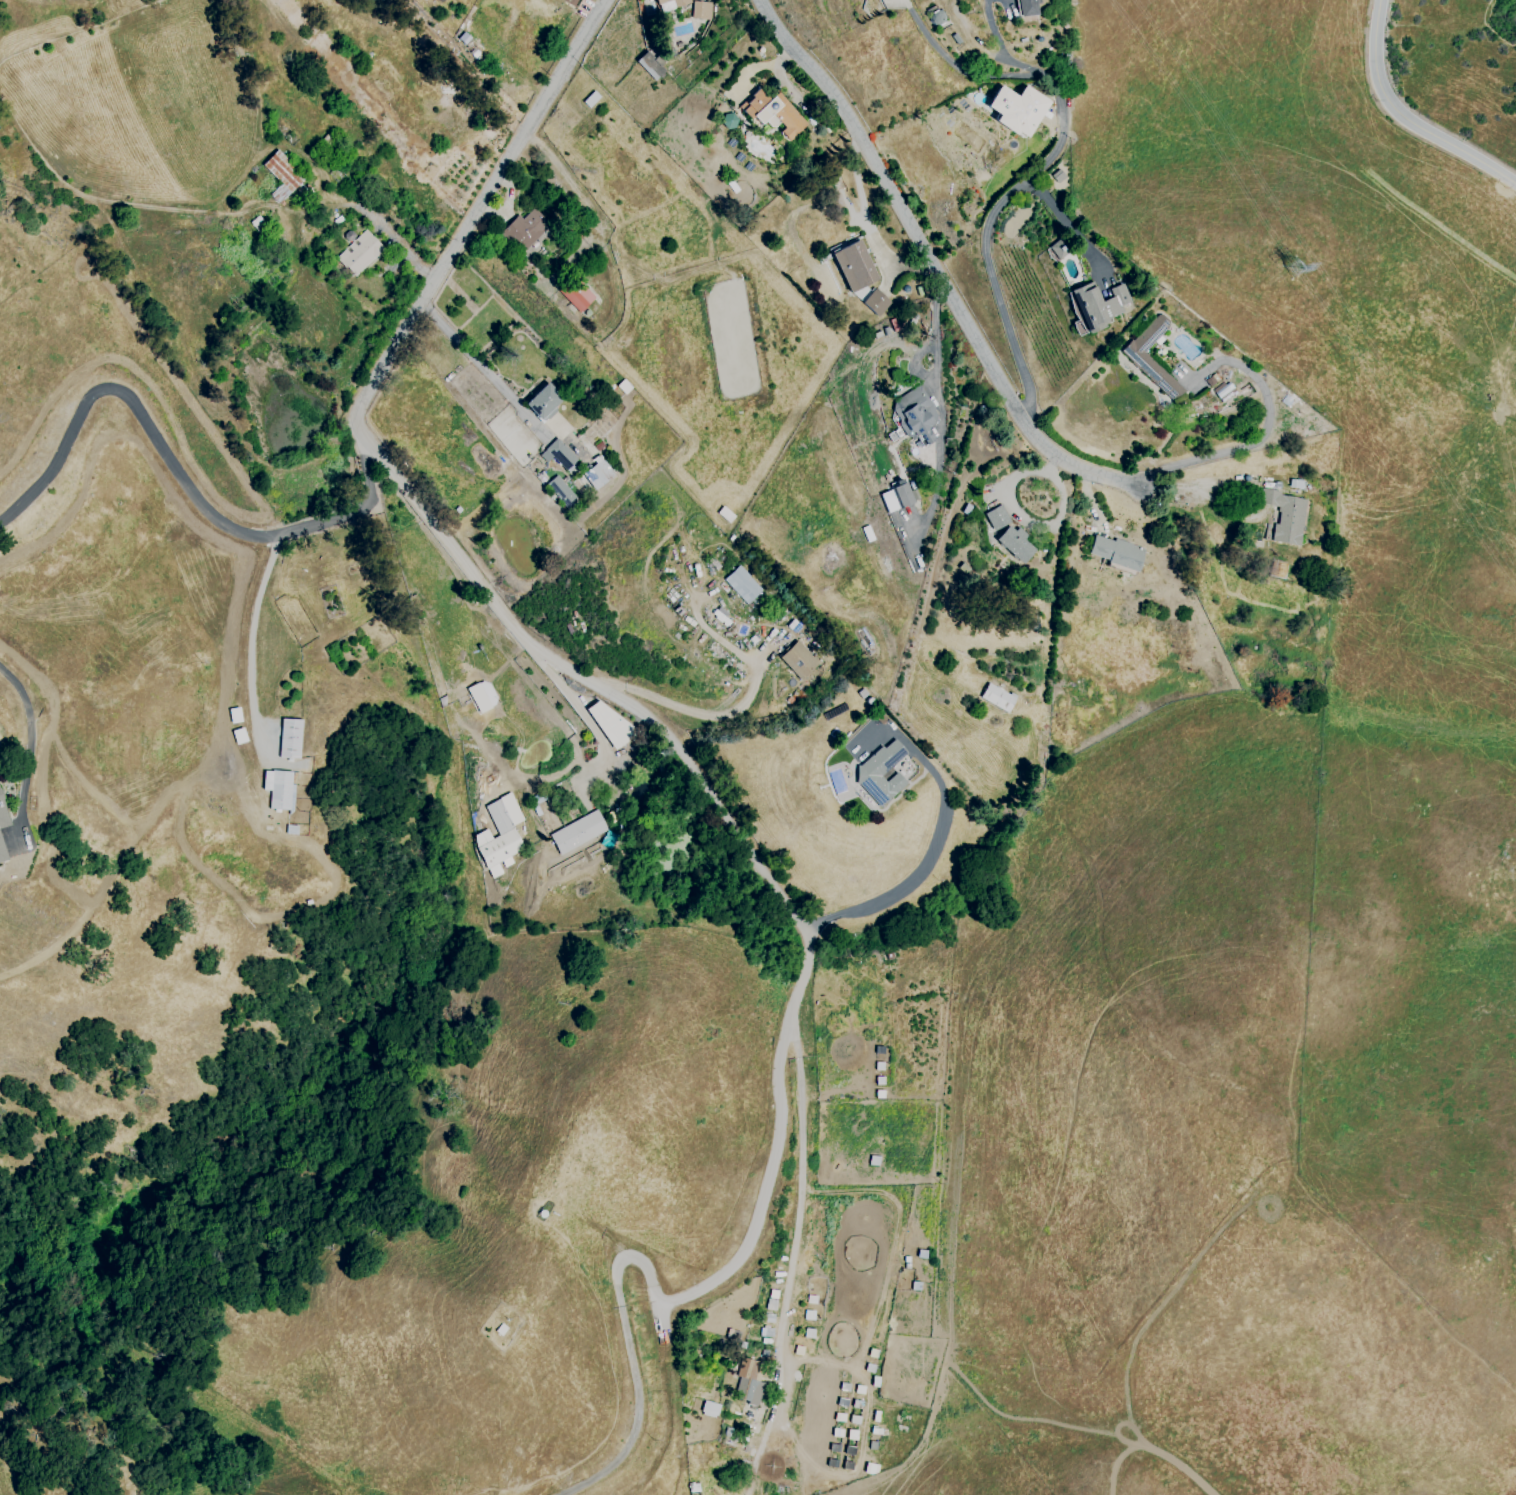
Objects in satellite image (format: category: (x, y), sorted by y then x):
building: (662, 1)
building: (572, 2)
building: (681, 2)
building: (1028, 7)
building: (701, 10)
building: (936, 17)
road: (92, 23)
road: (12, 52)
road: (4, 58)
building: (650, 65)
road: (964, 66)
building: (590, 99)
building: (1017, 109)
building: (774, 113)
road: (1405, 119)
building: (728, 121)
building: (281, 176)
building: (1057, 176)
road: (228, 193)
road: (1011, 195)
road: (867, 220)
road: (1068, 225)
building: (526, 227)
building: (1055, 250)
building: (361, 253)
building: (855, 266)
road: (931, 268)
power tower: (1290, 272)
building: (575, 294)
building: (875, 302)
building: (1098, 305)
road: (406, 331)
road: (917, 364)
building: (1153, 371)
road: (486, 374)
building: (544, 401)
road: (940, 407)
building: (916, 415)
road: (41, 418)
road: (1263, 436)
road: (222, 449)
building: (558, 454)
road: (150, 461)
road: (174, 466)
building: (597, 474)
building: (561, 492)
building: (901, 494)
building: (888, 501)
building: (1285, 516)
building: (995, 517)
building: (1015, 543)
building: (1117, 552)
building: (742, 585)
road: (250, 632)
building: (799, 660)
building: (482, 696)
building: (997, 697)
road: (691, 712)
road: (583, 717)
building: (608, 723)
building: (289, 739)
road: (28, 745)
road: (54, 747)
building: (881, 773)
building: (279, 789)
building: (3, 814)
road: (142, 832)
building: (579, 832)
building: (499, 835)
building: (3, 851)
road: (921, 867)
road: (325, 905)
road: (808, 945)
road: (795, 1241)
road: (1188, 1271)
road: (626, 1342)
building: (751, 1392)
building: (709, 1409)
road: (1022, 1419)
road: (1117, 1427)
road: (920, 1445)
road: (1183, 1468)

